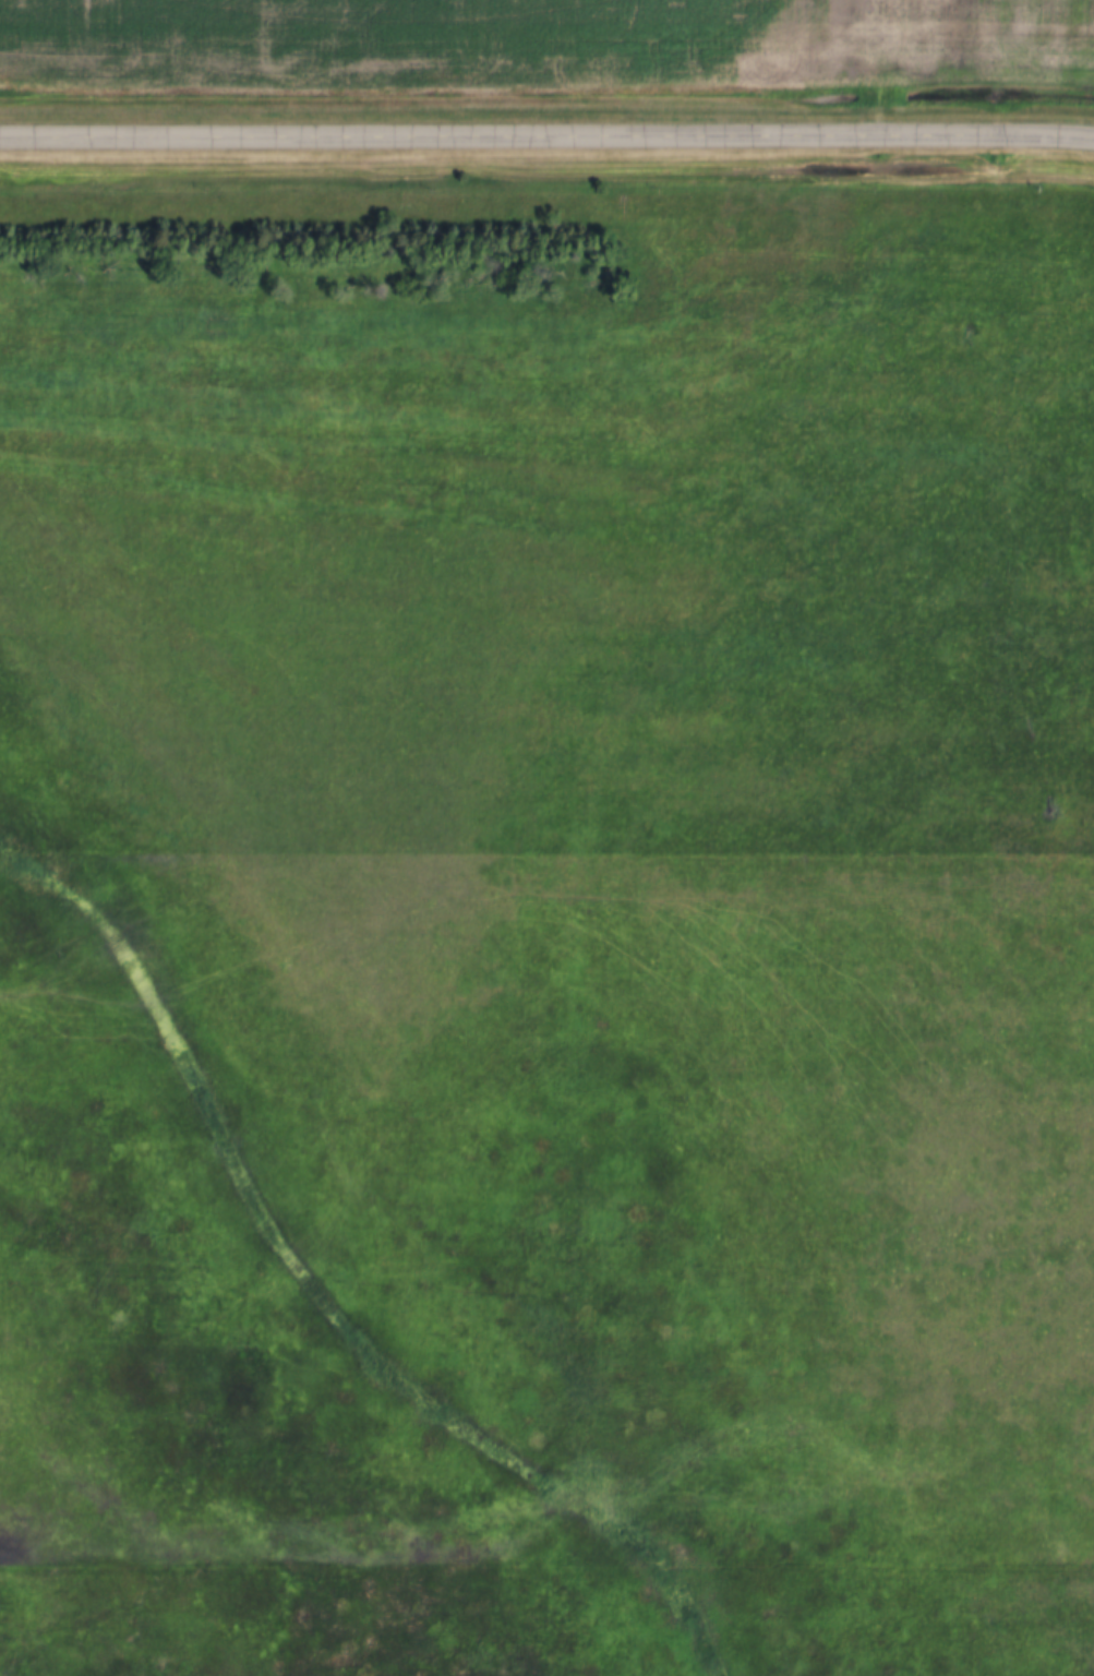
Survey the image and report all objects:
road: (546, 137)

